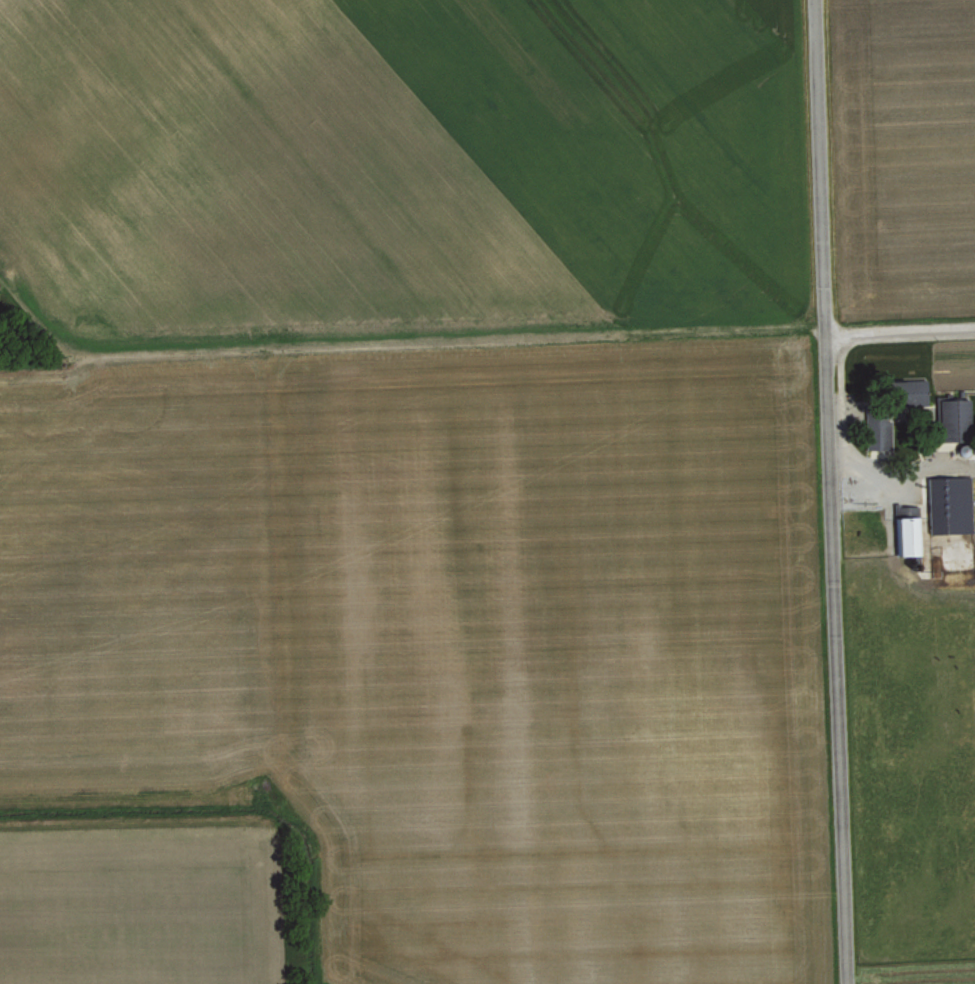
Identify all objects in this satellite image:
crop: (911, 152)
crop: (417, 163)
road: (905, 320)
building: (907, 391)
building: (954, 419)
building: (880, 432)
road: (839, 491)
building: (950, 504)
building: (905, 532)

